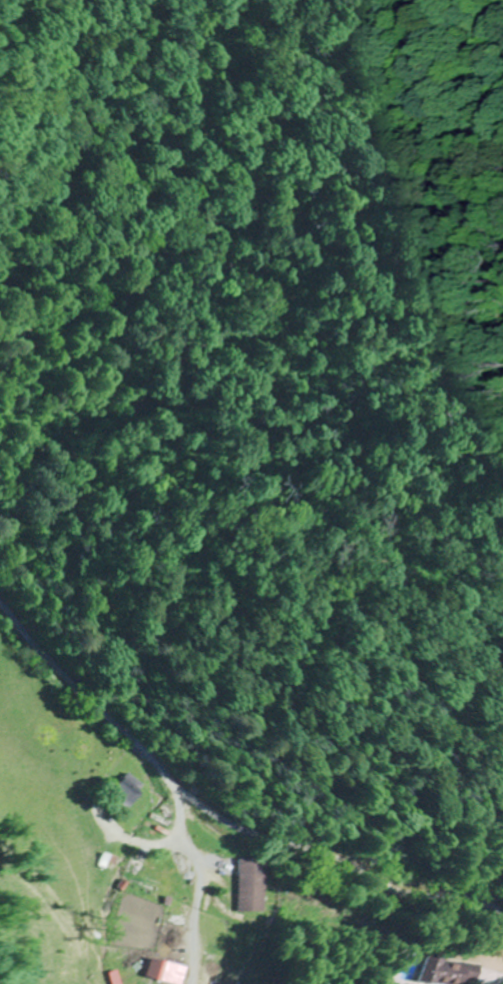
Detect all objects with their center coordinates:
building: (125, 794)
road: (217, 819)
building: (104, 868)
building: (158, 882)
building: (254, 892)
building: (160, 971)
building: (446, 972)

